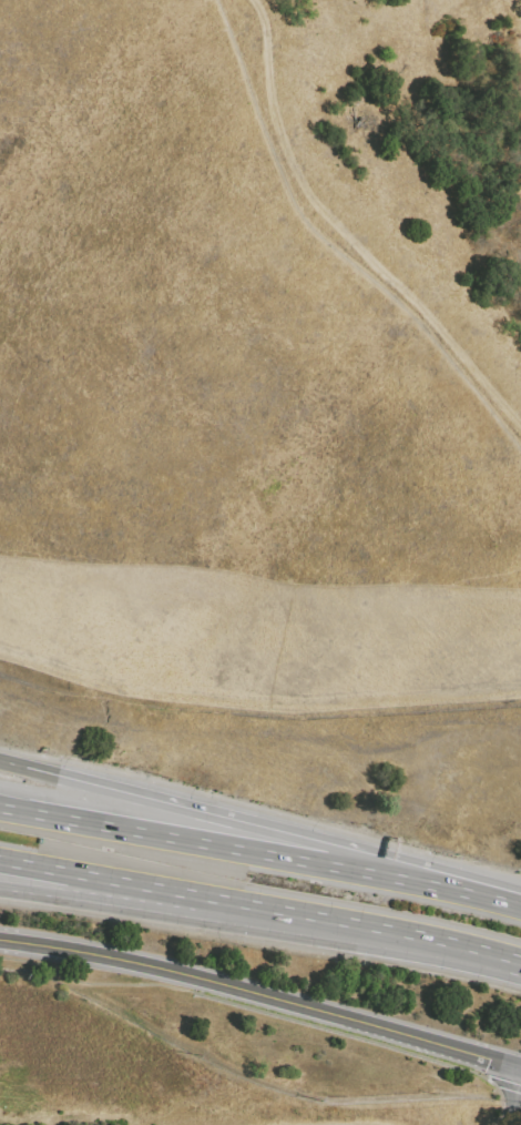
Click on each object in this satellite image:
road: (331, 249)
road: (13, 764)
road: (229, 815)
road: (213, 847)
road: (82, 875)
road: (473, 890)
road: (82, 895)
road: (181, 898)
road: (359, 926)
road: (262, 995)
road: (262, 1010)
road: (519, 1107)
road: (514, 1121)

